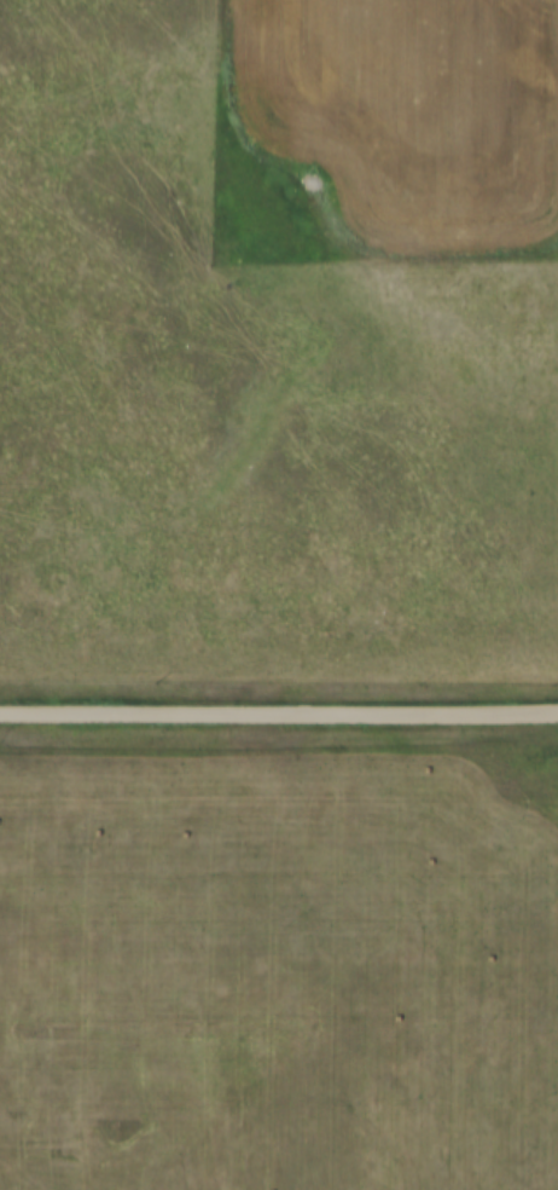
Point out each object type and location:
road: (279, 714)

